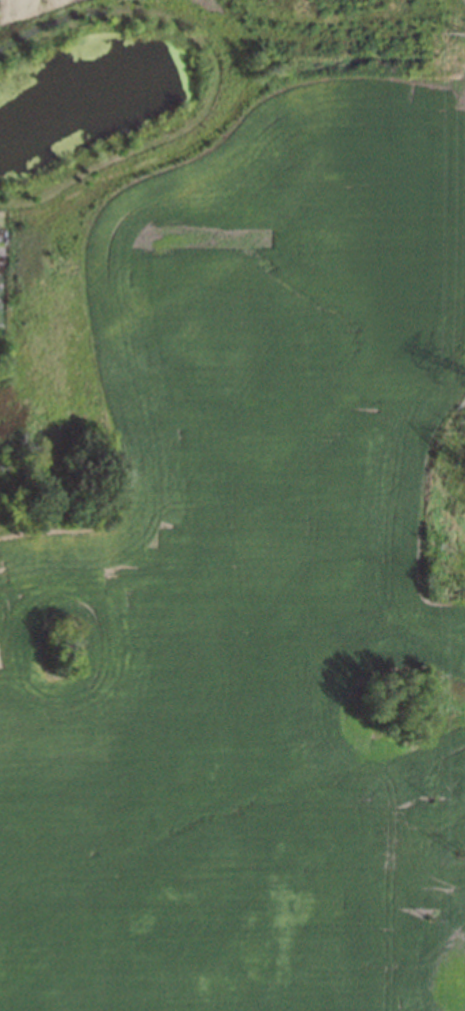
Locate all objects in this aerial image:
crop: (256, 595)
power tower: (460, 854)

